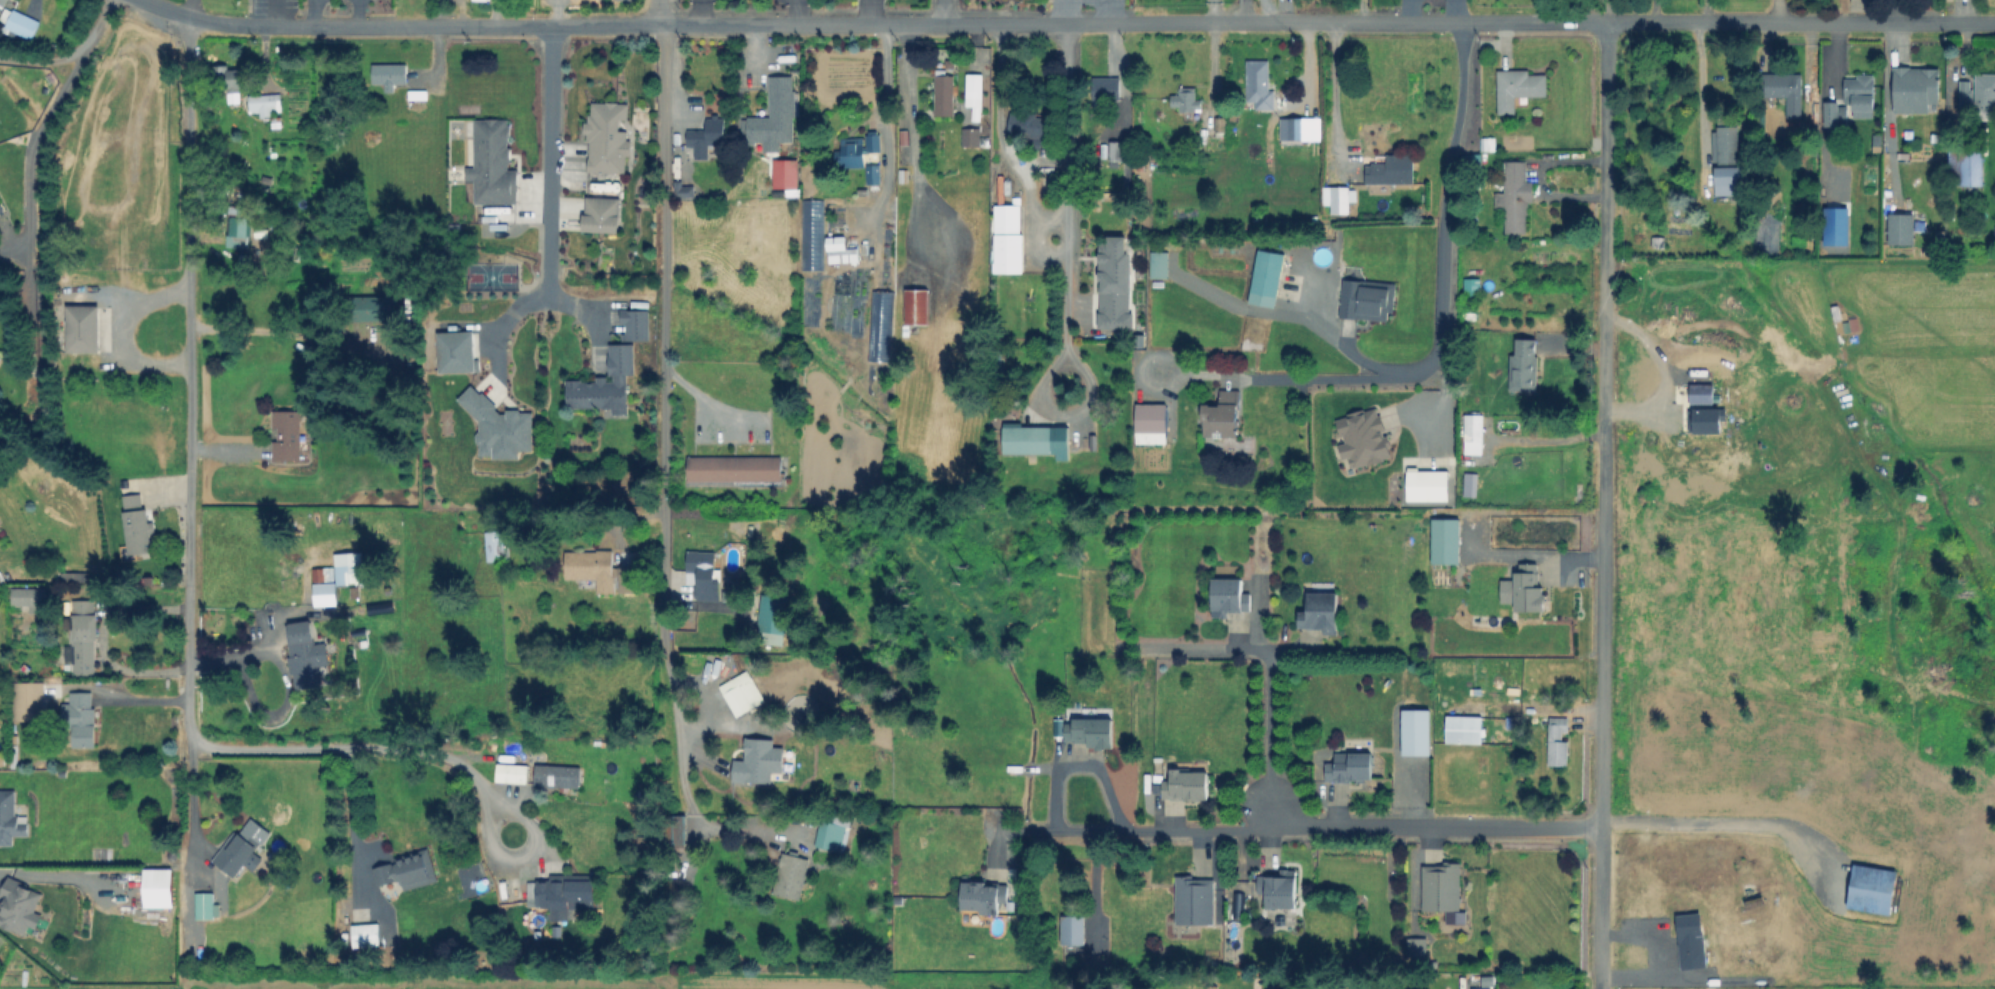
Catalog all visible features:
building: (1949, 1)
building: (2, 4)
road: (188, 7)
road: (1248, 10)
road: (1460, 10)
road: (1590, 10)
road: (1607, 10)
road: (1654, 10)
road: (1704, 10)
road: (1896, 10)
road: (700, 11)
road: (797, 11)
road: (946, 11)
road: (274, 13)
road: (1068, 21)
building: (20, 24)
road: (260, 46)
road: (43, 62)
building: (390, 75)
building: (230, 78)
building: (1259, 85)
building: (1986, 87)
building: (1518, 88)
building: (1107, 89)
road: (1334, 89)
building: (1916, 89)
building: (975, 91)
road: (1700, 91)
building: (1785, 91)
building: (1861, 93)
building: (1965, 93)
building: (944, 94)
building: (419, 95)
building: (1186, 102)
building: (264, 103)
building: (1831, 114)
building: (771, 116)
road: (885, 124)
building: (1030, 126)
road: (38, 131)
building: (1300, 131)
road: (1000, 135)
building: (706, 136)
building: (971, 137)
building: (608, 139)
building: (874, 142)
road: (912, 142)
building: (1729, 145)
building: (1116, 152)
building: (850, 155)
building: (1479, 156)
road: (550, 160)
building: (493, 164)
building: (1966, 169)
building: (783, 173)
building: (1393, 173)
building: (874, 174)
building: (1725, 181)
building: (682, 190)
building: (1516, 196)
building: (1337, 201)
building: (1801, 209)
building: (1, 210)
building: (1184, 211)
building: (599, 214)
building: (241, 227)
building: (1835, 227)
building: (1901, 228)
building: (813, 233)
building: (1009, 241)
building: (1658, 243)
building: (841, 251)
road: (663, 259)
building: (1161, 266)
road: (1065, 272)
building: (1114, 279)
building: (1267, 279)
building: (861, 281)
building: (1473, 287)
building: (1367, 301)
building: (375, 309)
building: (918, 309)
building: (638, 324)
road: (1440, 324)
building: (882, 326)
road: (501, 328)
building: (83, 329)
road: (120, 329)
road: (278, 332)
road: (1341, 336)
building: (458, 353)
building: (0, 358)
building: (1524, 367)
road: (1663, 380)
building: (606, 384)
road: (693, 389)
building: (1224, 416)
building: (1709, 423)
building: (1152, 425)
building: (499, 427)
building: (288, 434)
building: (1474, 434)
building: (1361, 437)
building: (1028, 441)
building: (735, 472)
building: (1425, 482)
building: (1463, 488)
road: (1604, 504)
building: (138, 526)
road: (187, 526)
building: (1447, 543)
building: (497, 547)
building: (350, 568)
building: (594, 568)
building: (704, 576)
building: (71, 577)
building: (326, 587)
building: (1530, 589)
building: (1229, 597)
building: (30, 598)
building: (379, 609)
building: (1319, 612)
building: (775, 613)
building: (84, 636)
road: (101, 636)
building: (303, 655)
road: (668, 665)
road: (285, 679)
road: (1267, 679)
building: (30, 699)
building: (748, 706)
building: (81, 718)
building: (1466, 731)
building: (1094, 733)
building: (1417, 734)
building: (1558, 743)
building: (791, 744)
building: (1, 761)
building: (756, 761)
road: (1080, 763)
building: (1351, 766)
building: (509, 772)
building: (555, 775)
building: (773, 778)
building: (1187, 787)
road: (191, 803)
road: (351, 809)
building: (10, 819)
building: (672, 826)
road: (1305, 829)
road: (1725, 834)
building: (829, 837)
road: (502, 853)
building: (234, 855)
building: (408, 871)
building: (791, 878)
building: (161, 887)
building: (1441, 888)
building: (1280, 889)
building: (1872, 890)
building: (564, 893)
building: (980, 897)
building: (1194, 901)
building: (204, 903)
building: (1239, 903)
building: (21, 906)
building: (1070, 929)
building: (366, 934)
building: (1417, 948)
crop: (521, 981)
building: (1401, 988)
building: (1481, 988)

